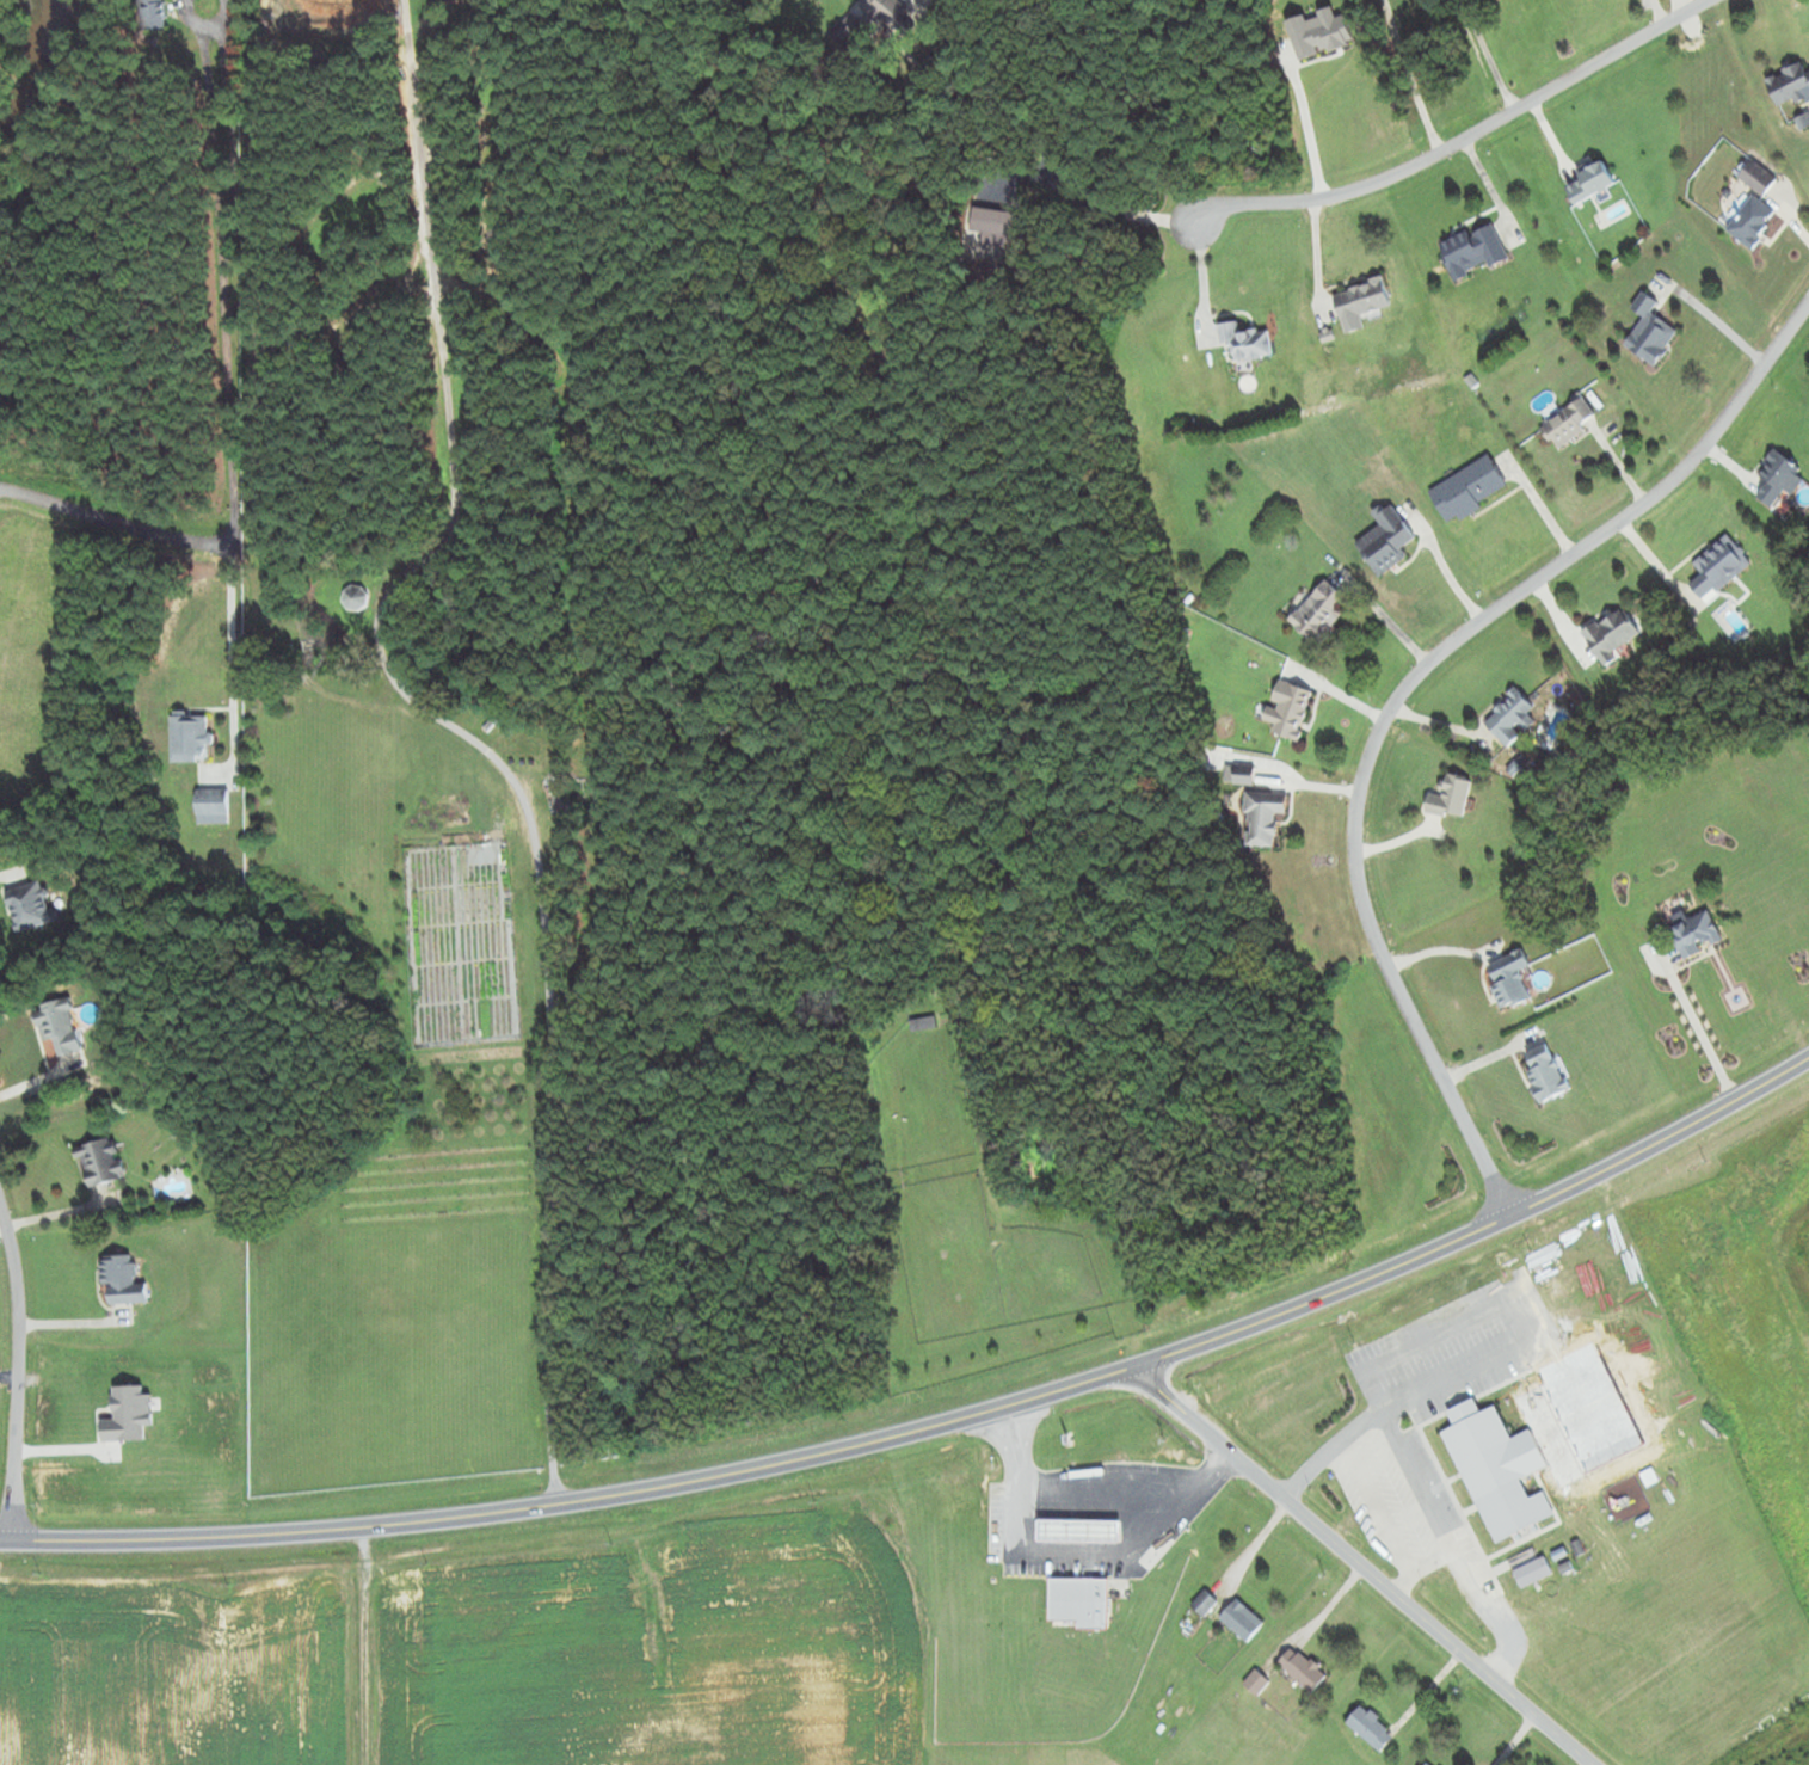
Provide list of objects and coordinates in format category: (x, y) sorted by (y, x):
building: (886, 11)
building: (154, 13)
building: (854, 32)
building: (1790, 84)
road: (1464, 137)
building: (1759, 177)
building: (1593, 180)
building: (1753, 221)
building: (1475, 250)
building: (1361, 302)
building: (1651, 332)
building: (1245, 340)
building: (1569, 424)
building: (1779, 478)
building: (1469, 490)
road: (116, 523)
building: (1387, 540)
building: (1721, 567)
building: (353, 599)
building: (1321, 613)
building: (1613, 635)
road: (239, 670)
road: (1401, 689)
building: (1291, 709)
building: (1513, 718)
building: (190, 737)
road: (441, 748)
building: (1247, 775)
building: (1452, 798)
building: (214, 806)
building: (1265, 817)
building: (31, 905)
building: (1697, 935)
building: (1510, 979)
building: (924, 1023)
building: (59, 1027)
building: (1548, 1074)
building: (101, 1163)
building: (123, 1280)
road: (17, 1376)
road: (936, 1419)
road: (1105, 1494)
building: (1081, 1531)
road: (1072, 1549)
road: (1358, 1564)
building: (1533, 1573)
building: (1081, 1601)
building: (1205, 1603)
building: (1242, 1621)
building: (1304, 1669)
building: (1256, 1683)
building: (1372, 1729)
building: (1427, 1764)

